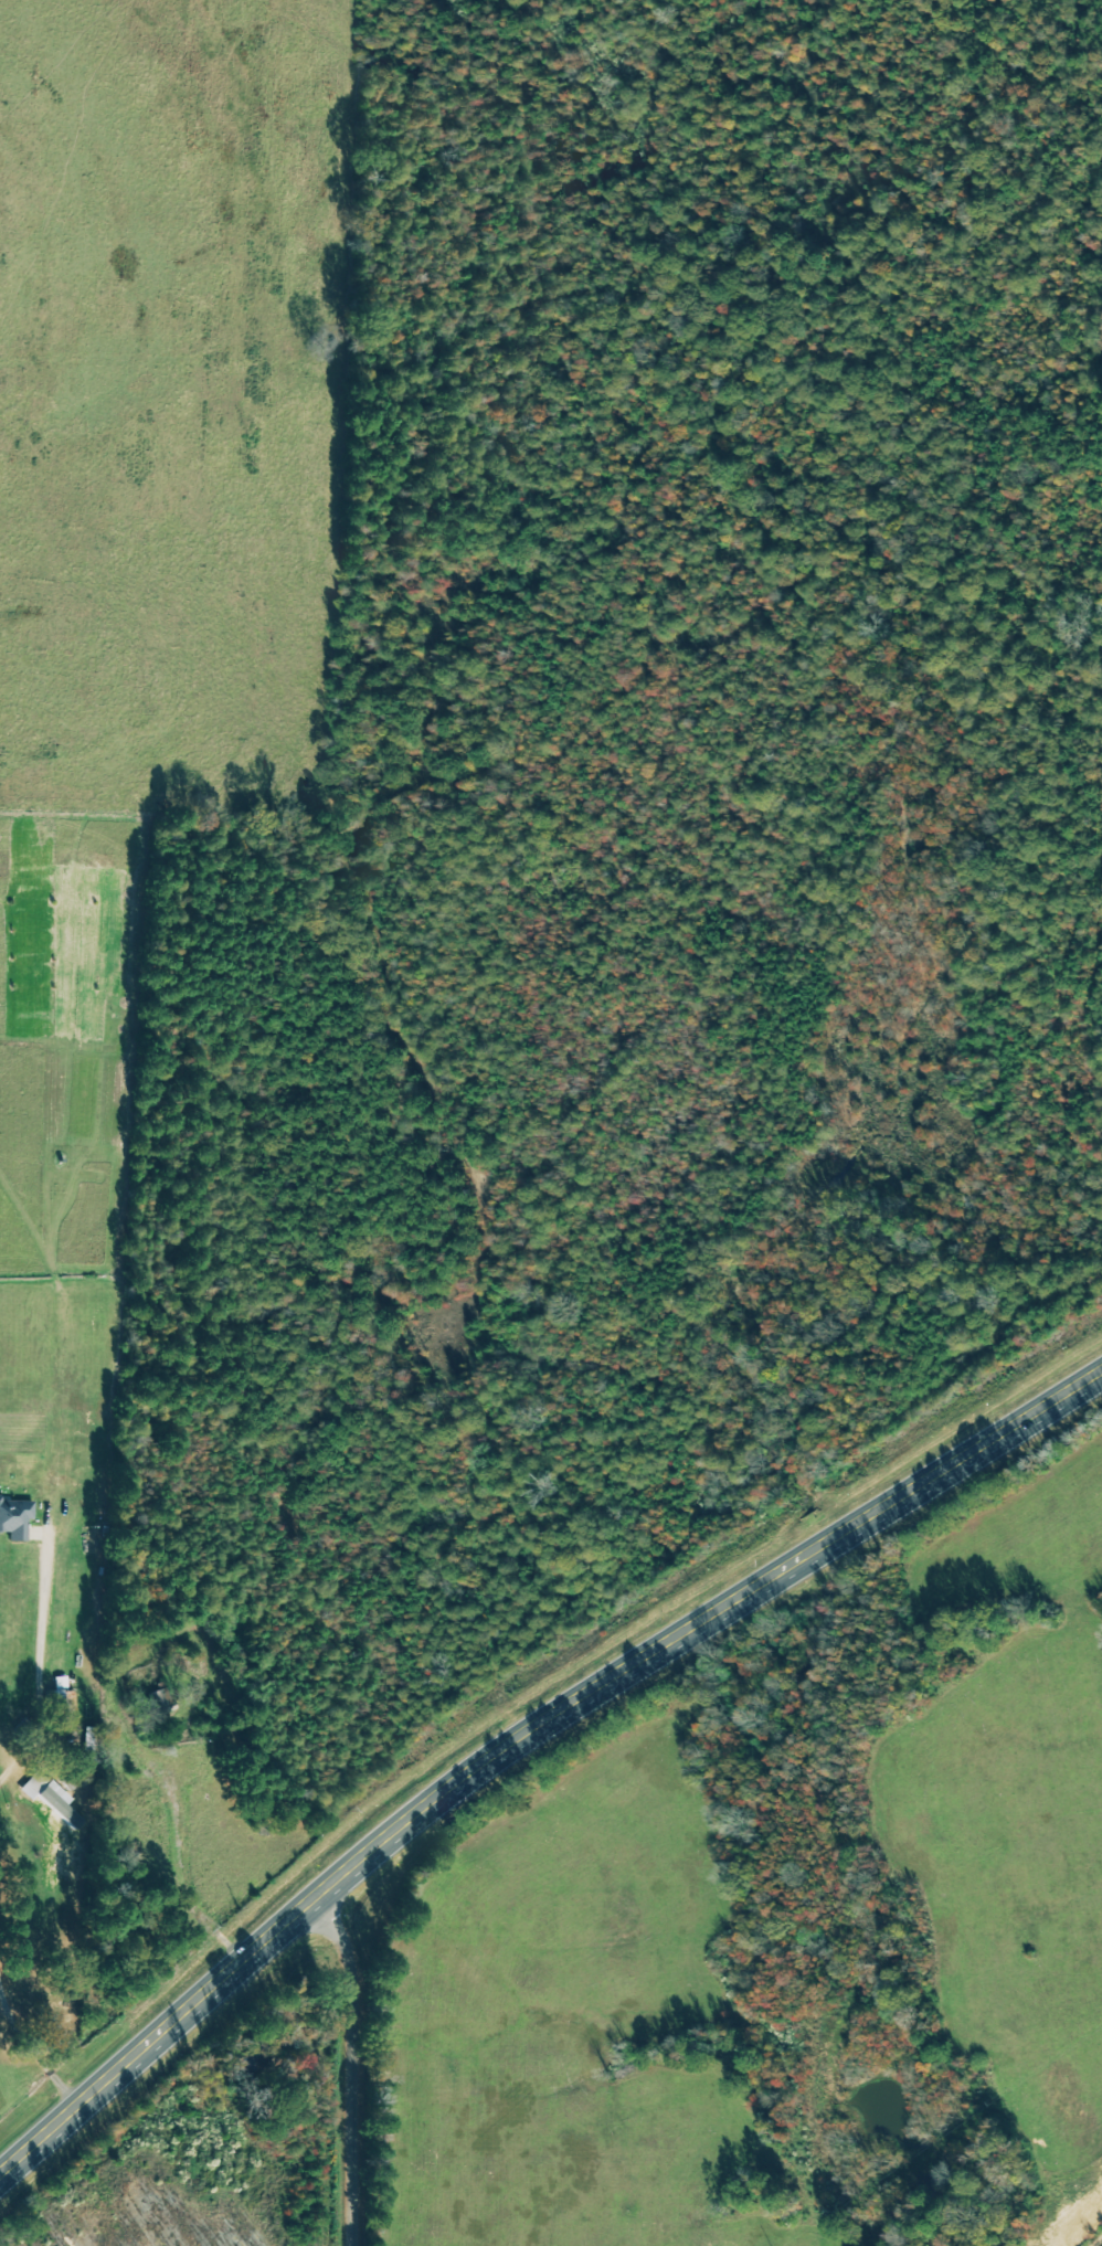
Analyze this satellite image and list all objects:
building: (17, 1518)
road: (522, 1739)
building: (92, 1741)
building: (54, 1800)
road: (348, 2066)

